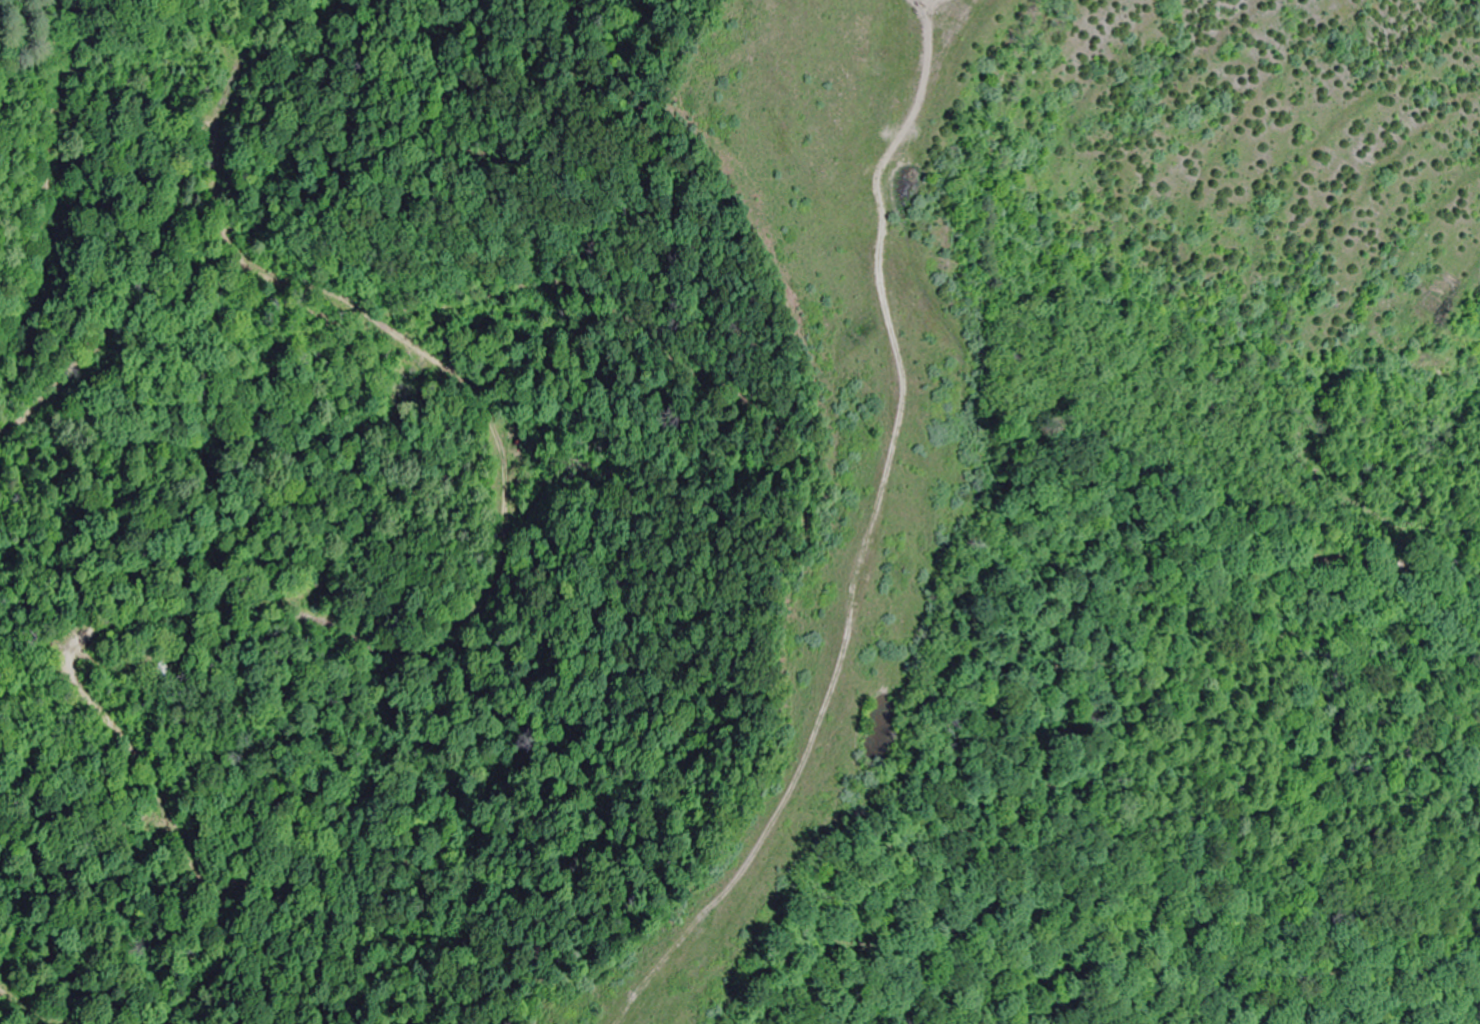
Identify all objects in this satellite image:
road: (60, 190)

